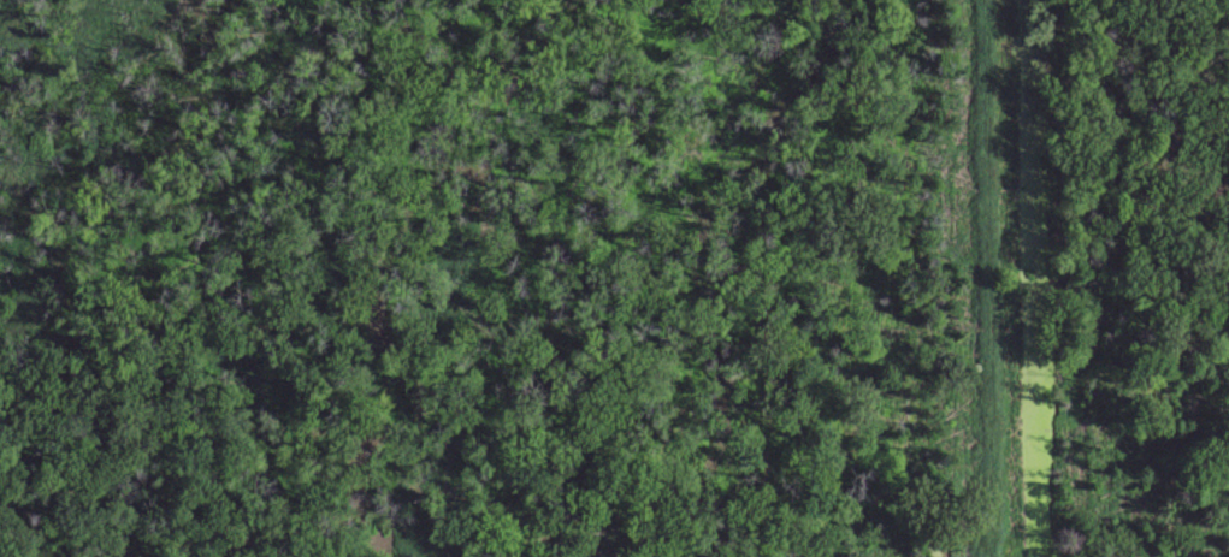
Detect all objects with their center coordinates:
road: (981, 278)

